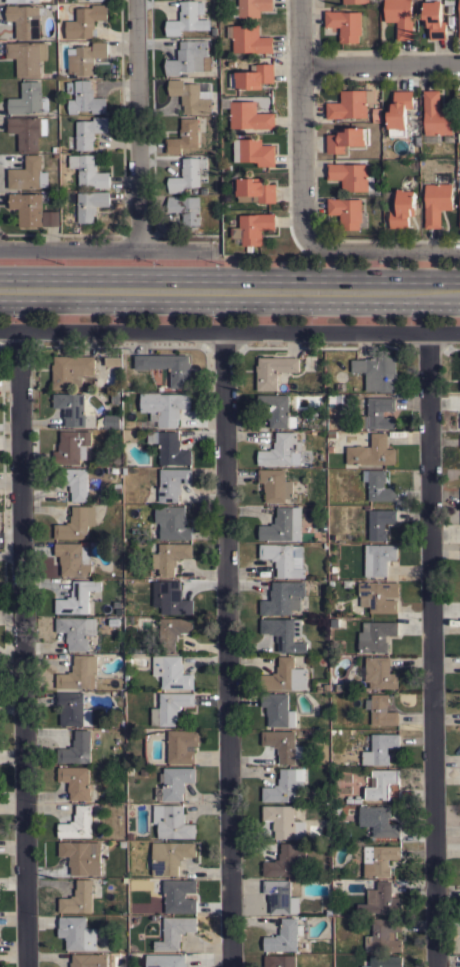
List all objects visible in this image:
building: (20, 0)
building: (99, 0)
building: (354, 0)
building: (449, 2)
building: (251, 7)
building: (400, 17)
building: (187, 18)
building: (434, 18)
building: (26, 19)
building: (85, 20)
building: (459, 20)
building: (345, 24)
building: (249, 39)
building: (27, 56)
building: (188, 56)
building: (85, 57)
road: (380, 65)
building: (252, 76)
building: (191, 96)
building: (85, 98)
building: (28, 99)
building: (349, 104)
road: (300, 112)
building: (399, 112)
building: (436, 114)
building: (249, 115)
road: (138, 124)
building: (27, 131)
building: (89, 131)
building: (184, 136)
building: (346, 138)
building: (253, 151)
building: (88, 170)
building: (26, 173)
building: (187, 175)
building: (350, 175)
building: (253, 189)
building: (437, 202)
building: (90, 204)
building: (28, 207)
building: (185, 208)
building: (402, 208)
building: (346, 211)
building: (50, 218)
building: (459, 223)
building: (253, 227)
road: (106, 249)
road: (375, 249)
road: (230, 293)
road: (229, 331)
building: (112, 361)
building: (167, 366)
building: (70, 370)
building: (273, 370)
building: (376, 372)
building: (339, 386)
building: (113, 397)
building: (338, 398)
building: (164, 407)
building: (75, 409)
building: (276, 409)
building: (378, 413)
building: (109, 421)
building: (330, 434)
building: (72, 447)
building: (169, 447)
building: (329, 449)
building: (281, 450)
building: (371, 451)
building: (73, 481)
building: (275, 484)
building: (117, 485)
building: (169, 485)
building: (378, 485)
building: (172, 522)
building: (76, 523)
building: (283, 524)
building: (378, 524)
building: (170, 557)
building: (284, 558)
building: (378, 558)
building: (73, 559)
building: (333, 568)
building: (333, 576)
building: (378, 596)
building: (77, 597)
building: (283, 597)
building: (170, 598)
building: (112, 622)
building: (333, 623)
building: (76, 631)
building: (173, 631)
building: (284, 633)
building: (376, 636)
road: (23, 648)
road: (232, 649)
road: (429, 650)
building: (171, 671)
building: (79, 673)
building: (379, 673)
building: (285, 676)
building: (338, 686)
building: (322, 687)
building: (169, 708)
building: (73, 709)
building: (277, 709)
building: (381, 710)
building: (282, 744)
building: (182, 746)
building: (76, 748)
building: (380, 748)
building: (143, 771)
building: (77, 783)
building: (174, 783)
building: (381, 783)
building: (285, 785)
building: (348, 800)
building: (357, 800)
building: (378, 820)
building: (283, 821)
building: (172, 822)
building: (77, 823)
building: (129, 835)
building: (122, 843)
building: (81, 856)
building: (168, 856)
building: (379, 859)
building: (286, 860)
building: (179, 896)
building: (280, 896)
building: (78, 898)
building: (380, 899)
building: (328, 911)
building: (76, 932)
building: (174, 932)
building: (384, 935)
building: (285, 936)
building: (88, 960)
building: (165, 960)
building: (280, 961)
building: (386, 961)

